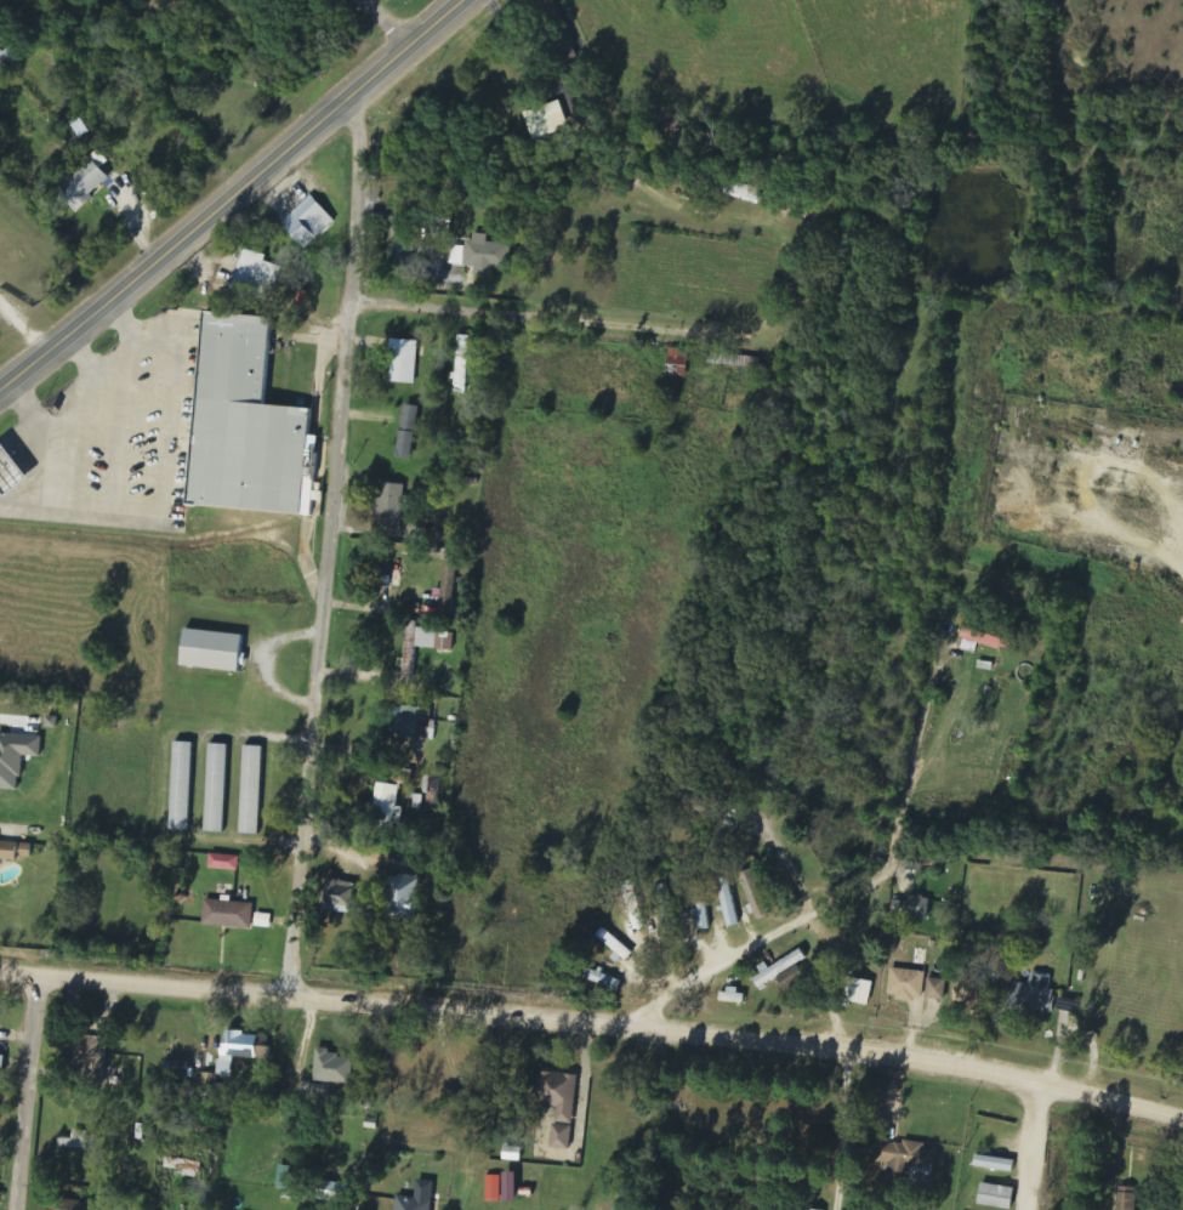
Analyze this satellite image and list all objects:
road: (387, 22)
building: (7, 59)
building: (546, 120)
building: (81, 187)
road: (232, 189)
building: (307, 223)
road: (630, 229)
building: (480, 256)
building: (255, 277)
building: (403, 362)
building: (677, 363)
building: (463, 364)
building: (250, 424)
building: (408, 433)
building: (13, 471)
building: (389, 506)
road: (326, 549)
building: (985, 640)
building: (423, 644)
building: (214, 651)
building: (413, 723)
building: (16, 759)
building: (182, 785)
building: (216, 786)
building: (251, 790)
building: (386, 809)
building: (17, 851)
building: (223, 863)
road: (886, 876)
building: (337, 894)
building: (402, 898)
building: (728, 902)
building: (633, 905)
building: (666, 907)
building: (911, 907)
building: (227, 914)
building: (703, 916)
building: (262, 920)
building: (614, 944)
building: (906, 984)
building: (937, 989)
building: (855, 990)
building: (1036, 994)
building: (732, 996)
road: (595, 1022)
building: (245, 1045)
building: (2, 1064)
building: (332, 1067)
building: (210, 1083)
road: (27, 1095)
building: (559, 1104)
building: (75, 1141)
road: (1028, 1144)
building: (906, 1154)
building: (994, 1164)
building: (183, 1166)
building: (284, 1177)
building: (510, 1187)
building: (494, 1188)
building: (995, 1197)
building: (416, 1198)
building: (1126, 1198)
building: (80, 1205)
building: (783, 1208)
building: (807, 1209)

